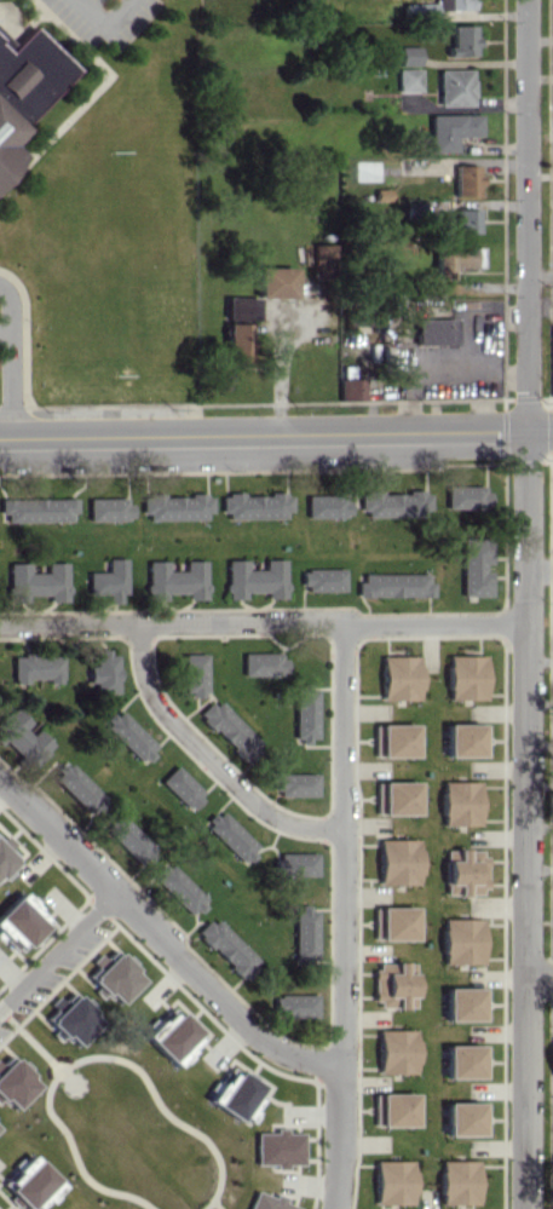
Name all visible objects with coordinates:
building: (457, 4)
building: (417, 10)
road: (99, 19)
building: (460, 40)
building: (4, 44)
building: (407, 54)
building: (33, 73)
building: (407, 80)
building: (453, 86)
building: (450, 129)
building: (7, 143)
building: (410, 165)
building: (465, 179)
road: (525, 215)
building: (456, 221)
building: (453, 259)
building: (319, 260)
road: (540, 275)
building: (272, 282)
building: (432, 330)
building: (234, 341)
building: (552, 357)
road: (276, 359)
road: (6, 363)
building: (348, 388)
road: (538, 430)
road: (263, 436)
building: (463, 496)
building: (392, 502)
building: (253, 505)
building: (324, 505)
building: (173, 506)
building: (35, 508)
building: (105, 508)
building: (473, 565)
road: (538, 572)
building: (254, 578)
building: (321, 578)
building: (38, 580)
building: (108, 580)
building: (174, 580)
building: (392, 583)
road: (433, 622)
road: (171, 623)
building: (263, 663)
building: (35, 667)
building: (103, 672)
building: (192, 673)
building: (398, 677)
building: (463, 677)
building: (304, 712)
building: (226, 729)
building: (21, 733)
building: (128, 735)
building: (462, 738)
building: (392, 739)
road: (211, 754)
building: (294, 783)
building: (179, 785)
building: (76, 787)
building: (394, 796)
building: (457, 802)
road: (526, 819)
building: (230, 835)
building: (131, 840)
building: (5, 858)
building: (397, 860)
building: (296, 863)
building: (462, 871)
building: (178, 888)
road: (340, 914)
building: (18, 921)
building: (392, 922)
road: (160, 932)
building: (304, 932)
building: (460, 939)
building: (226, 946)
road: (61, 955)
road: (540, 973)
building: (114, 975)
building: (392, 985)
building: (462, 1003)
building: (294, 1004)
building: (73, 1018)
building: (171, 1035)
building: (396, 1050)
building: (463, 1060)
building: (15, 1083)
road: (91, 1093)
building: (236, 1095)
building: (392, 1109)
building: (462, 1118)
building: (278, 1147)
building: (392, 1181)
building: (456, 1181)
building: (30, 1184)
building: (267, 1202)

